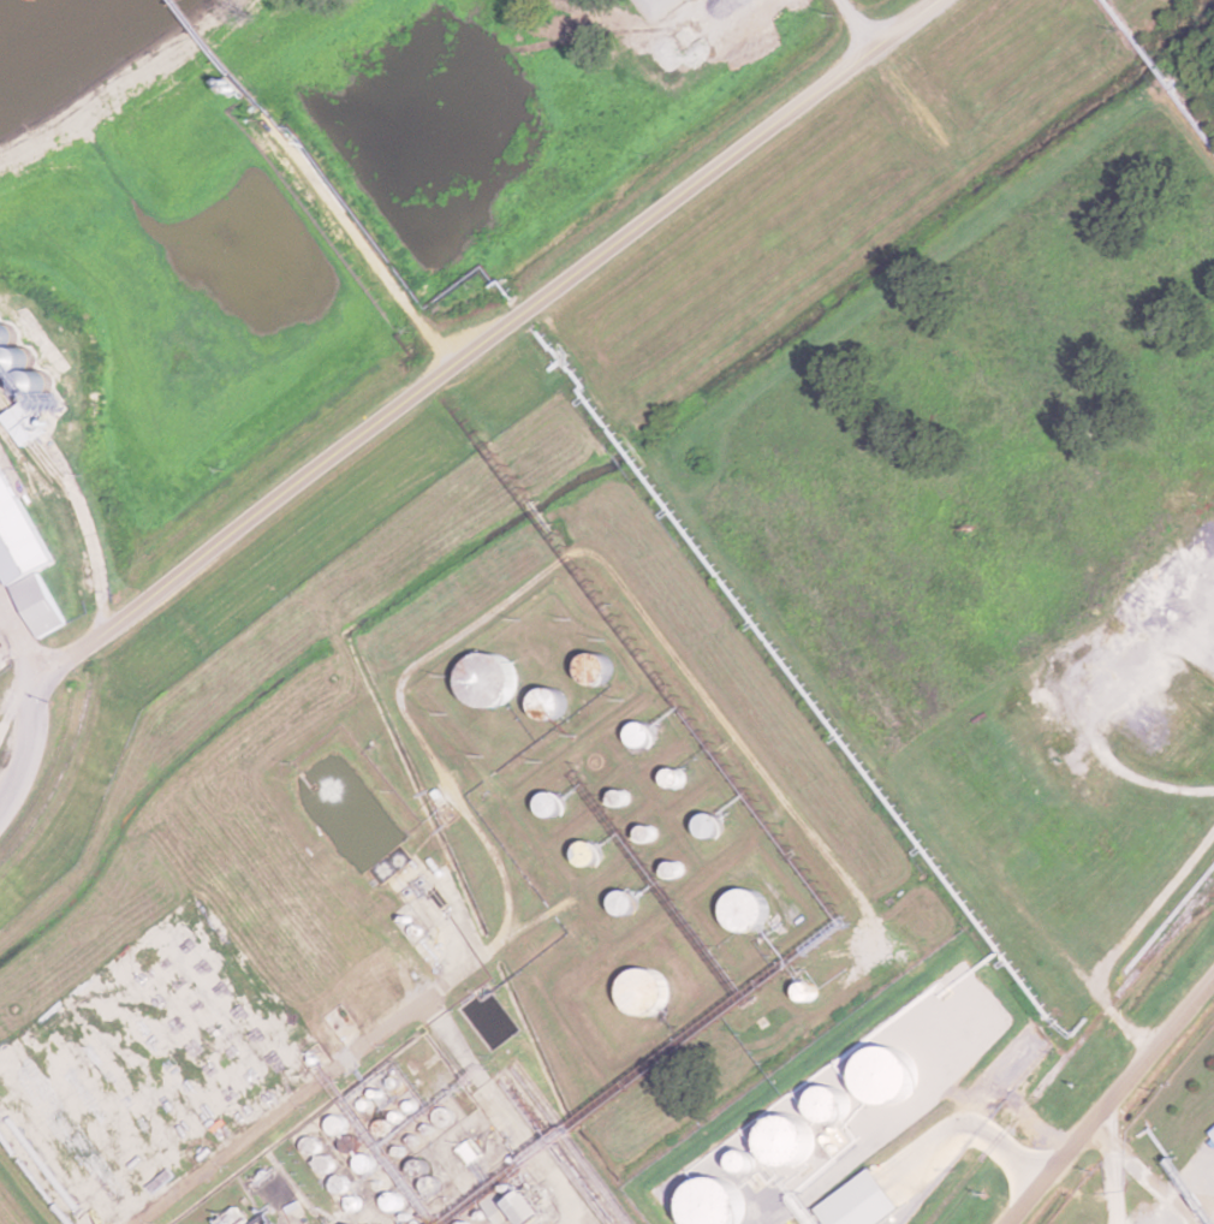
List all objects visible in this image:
road: (487, 344)
building: (24, 562)
railway: (103, 619)
building: (596, 669)
building: (487, 679)
building: (548, 702)
building: (641, 736)
road: (25, 751)
building: (676, 778)
building: (551, 802)
building: (710, 826)
building: (648, 833)
building: (588, 854)
building: (626, 902)
building: (744, 910)
building: (644, 991)
railway: (1070, 1051)
road: (1109, 1098)
building: (469, 1152)
railway: (549, 1153)
road: (220, 1154)
building: (500, 1207)
building: (529, 1207)

